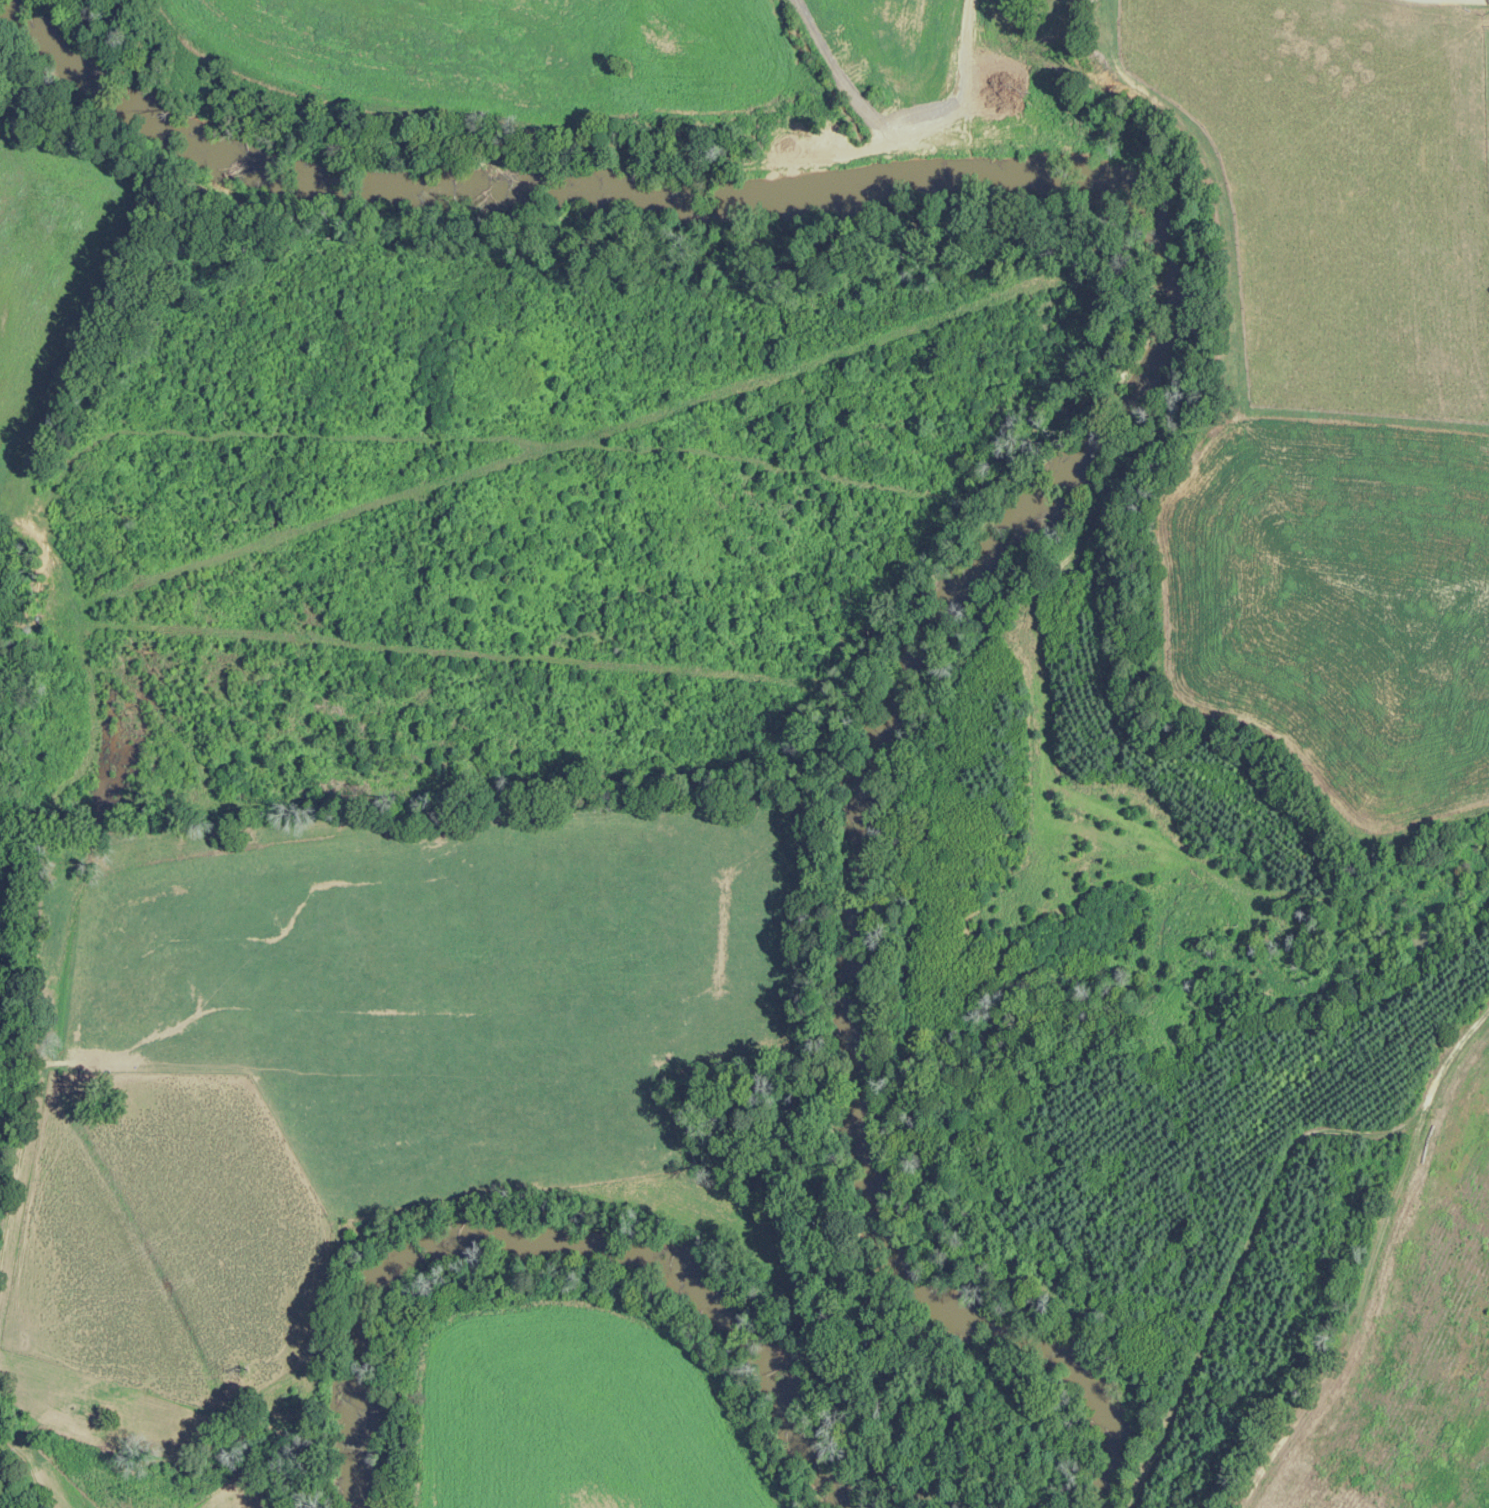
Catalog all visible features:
river: (997, 195)
river: (561, 1254)
river: (918, 1304)

